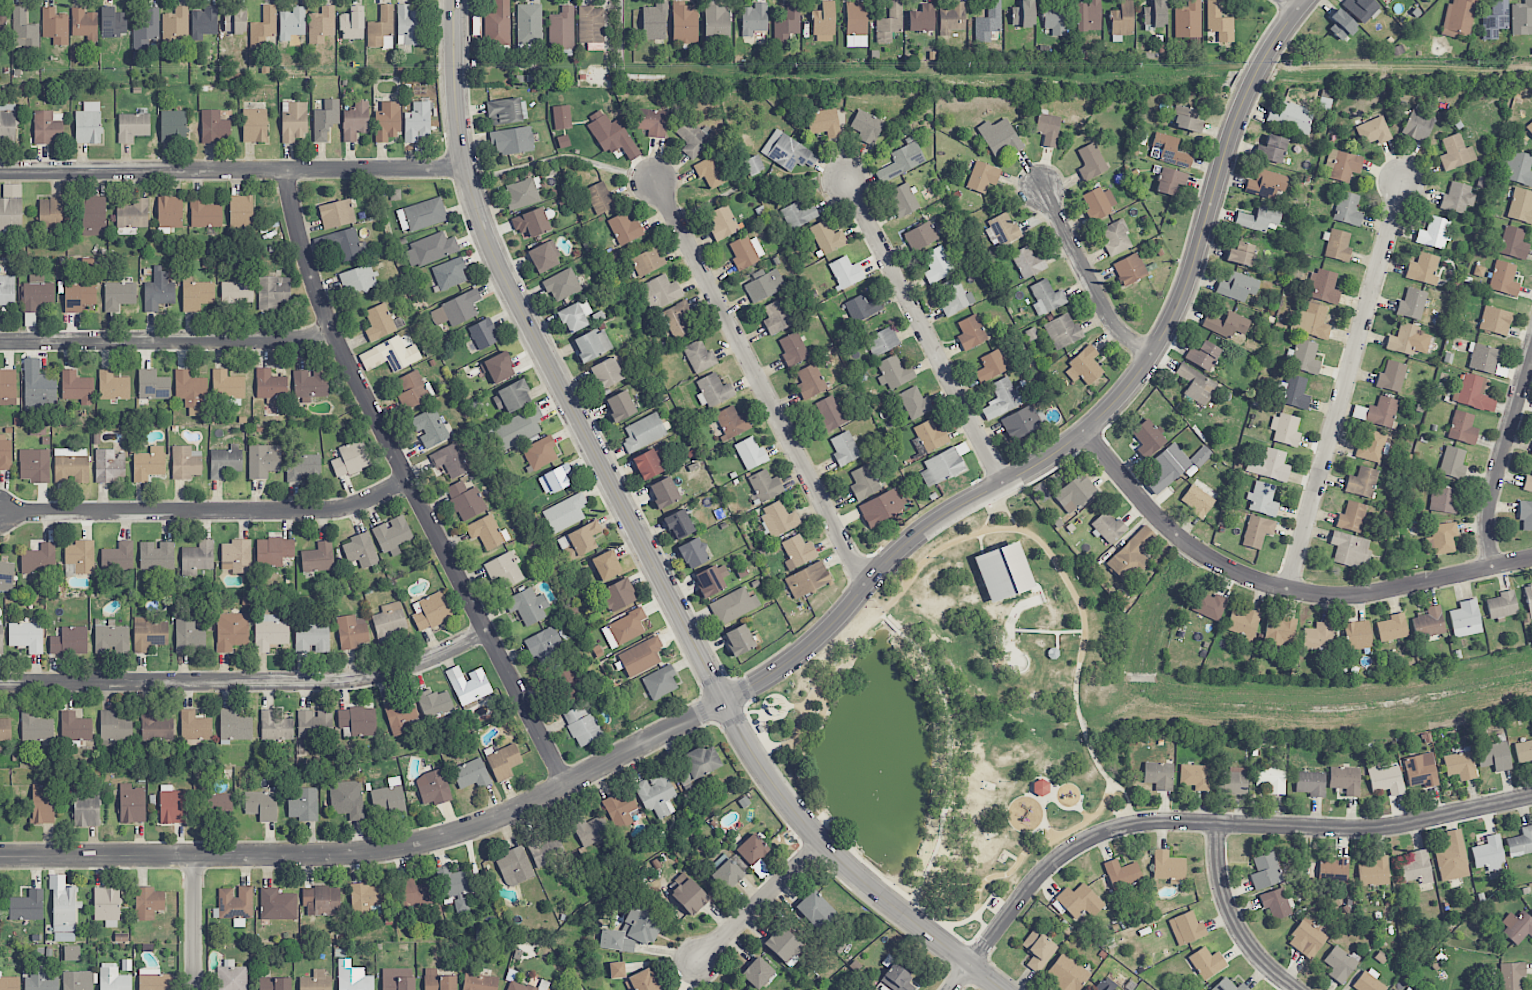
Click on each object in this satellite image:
building: (1383, 0)
road: (1292, 4)
building: (1360, 9)
building: (1155, 13)
building: (1023, 14)
building: (1088, 16)
building: (754, 18)
building: (891, 18)
building: (952, 18)
building: (1056, 18)
building: (1458, 18)
building: (1522, 18)
building: (921, 19)
building: (1122, 19)
building: (1495, 19)
building: (1188, 20)
building: (236, 21)
building: (654, 21)
building: (716, 21)
building: (113, 22)
building: (204, 22)
building: (683, 22)
building: (823, 22)
building: (988, 22)
building: (84, 23)
building: (292, 23)
building: (497, 23)
building: (1219, 23)
building: (529, 24)
building: (591, 24)
building: (787, 24)
building: (856, 24)
building: (2, 25)
building: (321, 25)
building: (351, 25)
building: (1341, 25)
building: (55, 26)
building: (175, 26)
building: (409, 26)
building: (381, 28)
building: (264, 29)
building: (24, 30)
building: (147, 31)
building: (562, 31)
building: (594, 47)
building: (1289, 116)
building: (561, 117)
building: (325, 119)
building: (1186, 119)
building: (355, 121)
building: (387, 121)
building: (293, 122)
building: (417, 122)
building: (652, 122)
building: (7, 123)
building: (88, 123)
building: (824, 123)
building: (1418, 124)
building: (173, 126)
building: (254, 126)
building: (132, 127)
building: (214, 127)
building: (866, 127)
building: (47, 128)
building: (1529, 128)
building: (1047, 129)
building: (1374, 130)
building: (611, 135)
building: (693, 137)
building: (999, 137)
building: (511, 141)
building: (1271, 149)
building: (1168, 150)
building: (787, 152)
building: (1455, 152)
building: (901, 161)
building: (1091, 162)
building: (753, 165)
building: (1343, 165)
building: (1518, 168)
road: (233, 172)
building: (710, 172)
building: (982, 177)
building: (1170, 181)
street lamp: (449, 182)
building: (1267, 184)
street lamp: (1230, 192)
building: (522, 193)
building: (600, 198)
building: (1458, 198)
building: (902, 200)
building: (1098, 202)
building: (1521, 205)
building: (11, 208)
building: (1347, 209)
building: (169, 212)
building: (240, 212)
building: (50, 213)
building: (133, 214)
building: (204, 214)
building: (336, 214)
building: (421, 215)
building: (798, 215)
building: (93, 216)
building: (1259, 219)
building: (723, 222)
building: (531, 223)
building: (624, 228)
building: (1003, 229)
building: (1434, 232)
building: (920, 236)
building: (827, 237)
building: (1115, 238)
building: (1513, 243)
building: (346, 245)
building: (1336, 245)
building: (430, 250)
building: (746, 252)
building: (1241, 254)
building: (544, 257)
building: (645, 262)
building: (1028, 262)
building: (937, 264)
building: (1130, 269)
building: (1423, 269)
building: (845, 272)
building: (449, 274)
road: (1088, 274)
building: (1503, 278)
building: (358, 279)
building: (562, 285)
building: (763, 285)
building: (1237, 286)
building: (1323, 287)
building: (159, 289)
building: (7, 290)
building: (237, 292)
building: (273, 292)
building: (660, 292)
building: (37, 294)
building: (196, 294)
building: (79, 296)
building: (119, 296)
building: (954, 297)
building: (1046, 297)
building: (1411, 304)
building: (862, 308)
building: (456, 310)
building: (574, 317)
building: (777, 317)
building: (678, 319)
building: (1495, 320)
building: (1311, 321)
building: (379, 322)
building: (1226, 324)
road: (924, 330)
building: (1062, 331)
building: (971, 333)
building: (483, 334)
road: (167, 339)
building: (1407, 340)
building: (882, 341)
building: (591, 345)
building: (793, 349)
building: (390, 355)
building: (1203, 355)
building: (699, 357)
street lamp: (1127, 357)
building: (1483, 358)
road: (548, 362)
building: (991, 366)
building: (498, 367)
building: (1084, 367)
building: (605, 373)
building: (894, 373)
building: (1391, 376)
road: (759, 381)
building: (810, 381)
building: (310, 384)
building: (1195, 384)
building: (153, 385)
building: (227, 385)
building: (270, 385)
building: (113, 386)
building: (7, 387)
road: (1346, 387)
building: (38, 388)
building: (77, 388)
building: (412, 390)
building: (713, 390)
building: (189, 391)
building: (1293, 391)
building: (1473, 393)
building: (512, 397)
building: (1002, 398)
building: (914, 403)
building: (620, 406)
building: (1381, 412)
building: (830, 414)
road: (1097, 418)
building: (732, 422)
building: (1020, 423)
building: (430, 428)
building: (1462, 428)
building: (1285, 429)
building: (514, 430)
building: (643, 432)
street lamp: (1106, 433)
building: (931, 436)
building: (1148, 438)
building: (1372, 446)
building: (844, 448)
building: (1531, 452)
building: (5, 453)
building: (540, 453)
building: (750, 453)
building: (351, 459)
road: (1501, 459)
building: (263, 460)
building: (449, 460)
building: (224, 461)
building: (185, 462)
building: (1453, 462)
building: (148, 464)
building: (647, 464)
building: (34, 465)
building: (71, 465)
building: (109, 465)
building: (1270, 465)
building: (1174, 466)
building: (302, 467)
building: (942, 467)
building: (558, 478)
building: (863, 482)
building: (1361, 482)
road: (409, 484)
building: (1527, 484)
building: (765, 486)
building: (664, 492)
building: (1075, 493)
building: (1262, 499)
building: (1443, 499)
building: (466, 501)
building: (1196, 501)
road: (987, 502)
building: (880, 507)
road: (206, 512)
building: (565, 513)
building: (1525, 514)
road: (989, 515)
street lamp: (999, 516)
building: (1352, 517)
building: (779, 519)
building: (678, 524)
building: (1107, 527)
building: (1257, 531)
building: (487, 532)
building: (392, 535)
building: (1443, 538)
building: (579, 540)
building: (360, 550)
building: (1350, 550)
building: (273, 551)
building: (798, 551)
building: (693, 553)
building: (1132, 553)
building: (156, 555)
building: (81, 556)
building: (118, 556)
building: (236, 556)
building: (197, 558)
building: (318, 558)
street lamp: (938, 558)
building: (39, 559)
building: (606, 565)
building: (504, 571)
building: (1003, 572)
road: (914, 575)
building: (6, 576)
building: (711, 579)
building: (807, 579)
road: (1279, 588)
building: (614, 596)
building: (1528, 598)
street lamp: (871, 601)
building: (733, 605)
building: (1209, 605)
building: (1502, 605)
building: (527, 606)
street lamp: (876, 607)
building: (431, 611)
road: (882, 615)
building: (1465, 619)
building: (390, 620)
building: (1430, 622)
building: (1243, 623)
road: (891, 624)
building: (624, 628)
building: (1392, 628)
building: (231, 631)
building: (1280, 631)
building: (269, 632)
building: (351, 632)
building: (149, 633)
building: (1357, 635)
building: (1, 636)
building: (26, 636)
building: (189, 636)
building: (1318, 636)
building: (111, 638)
building: (312, 638)
building: (739, 640)
building: (69, 641)
building: (543, 645)
building: (640, 656)
street lamp: (831, 663)
road: (248, 681)
building: (660, 682)
building: (468, 684)
building: (568, 685)
road: (777, 698)
building: (434, 704)
street lamp: (748, 705)
road: (797, 706)
road: (748, 713)
park: (966, 715)
building: (399, 716)
road: (821, 718)
building: (358, 721)
building: (314, 724)
building: (582, 724)
building: (234, 726)
building: (275, 726)
building: (36, 727)
building: (75, 727)
building: (155, 727)
building: (195, 727)
building: (115, 728)
building: (5, 729)
road: (1085, 731)
building: (1524, 752)
building: (1494, 756)
building: (503, 762)
building: (700, 762)
building: (1460, 765)
road: (949, 769)
building: (1421, 770)
building: (472, 774)
building: (1159, 775)
street lamp: (544, 776)
building: (1195, 776)
building: (1271, 778)
building: (1385, 779)
building: (1345, 780)
building: (1232, 781)
building: (1310, 783)
building: (433, 787)
building: (1040, 787)
building: (656, 794)
building: (388, 796)
road: (1128, 798)
building: (43, 804)
building: (132, 804)
building: (220, 804)
building: (348, 804)
building: (261, 805)
building: (304, 805)
building: (171, 806)
building: (86, 808)
building: (620, 809)
road: (1223, 824)
road: (819, 826)
building: (591, 830)
building: (1520, 842)
road: (1034, 848)
building: (546, 849)
building: (752, 849)
road: (828, 849)
road: (378, 851)
building: (1488, 854)
building: (1452, 857)
building: (718, 863)
building: (515, 867)
building: (1417, 869)
building: (1265, 871)
building: (1334, 871)
building: (1375, 872)
building: (1122, 874)
building: (728, 875)
street lamp: (205, 876)
road: (892, 885)
building: (454, 887)
building: (414, 893)
building: (688, 894)
building: (364, 896)
building: (321, 900)
road: (760, 901)
building: (1078, 901)
building: (148, 903)
building: (1276, 903)
building: (235, 904)
building: (277, 905)
building: (27, 906)
building: (106, 906)
building: (814, 910)
road: (1232, 919)
road: (193, 922)
road: (984, 925)
building: (1517, 926)
building: (1186, 928)
building: (633, 929)
building: (1307, 936)
building: (784, 945)
building: (1038, 950)
building: (71, 953)
building: (1206, 963)
building: (1339, 964)
street lamp: (946, 966)
building: (616, 970)
building: (757, 973)
building: (1067, 974)
building: (1511, 975)
building: (231, 976)
building: (352, 977)
road: (961, 977)
road: (987, 977)
building: (113, 979)
building: (897, 979)
building: (77, 980)
building: (154, 980)
building: (40, 981)
building: (315, 981)
building: (438, 981)
building: (642, 981)
building: (1368, 981)
building: (479, 982)
building: (9, 983)
building: (275, 983)
building: (1228, 985)
building: (518, 986)
building: (1102, 986)
building: (870, 989)
building: (1395, 989)
building: (1408, 989)

